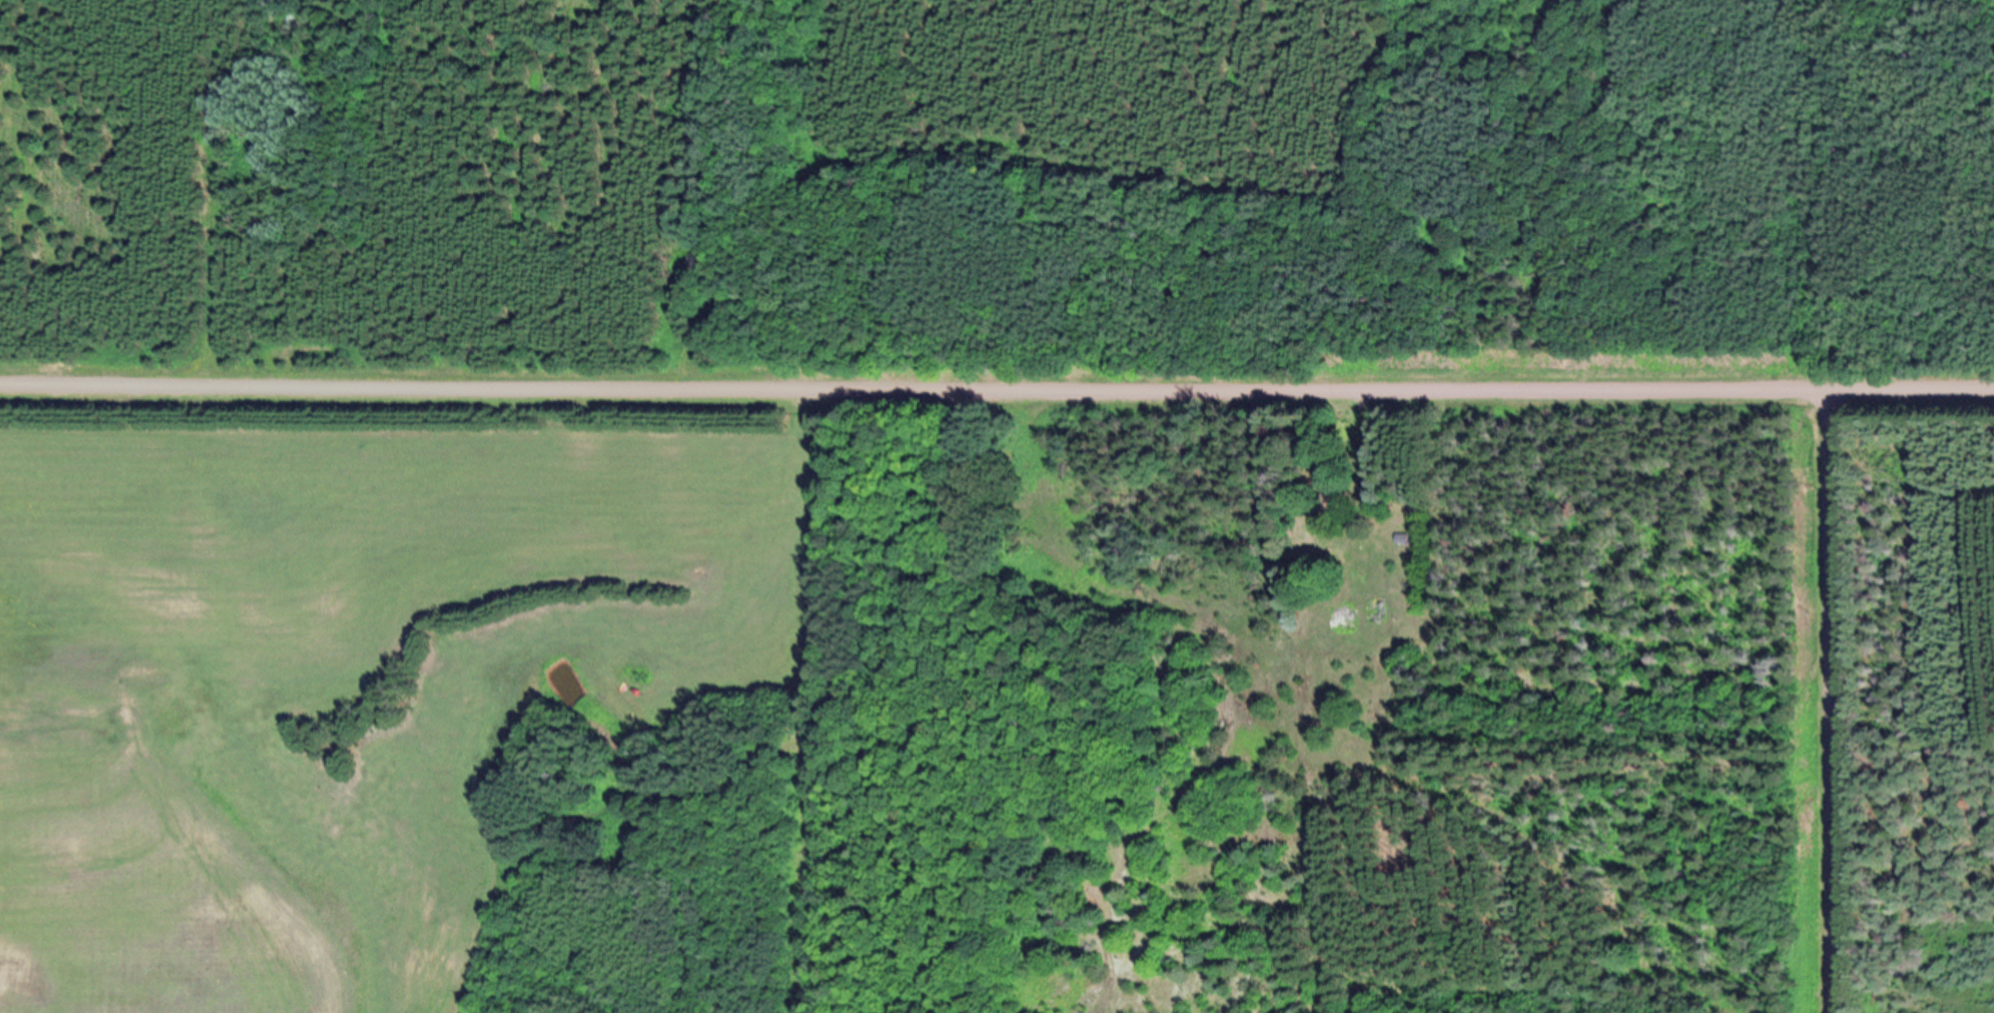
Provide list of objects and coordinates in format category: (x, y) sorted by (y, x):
road: (996, 391)
building: (1334, 505)
road: (1831, 703)

